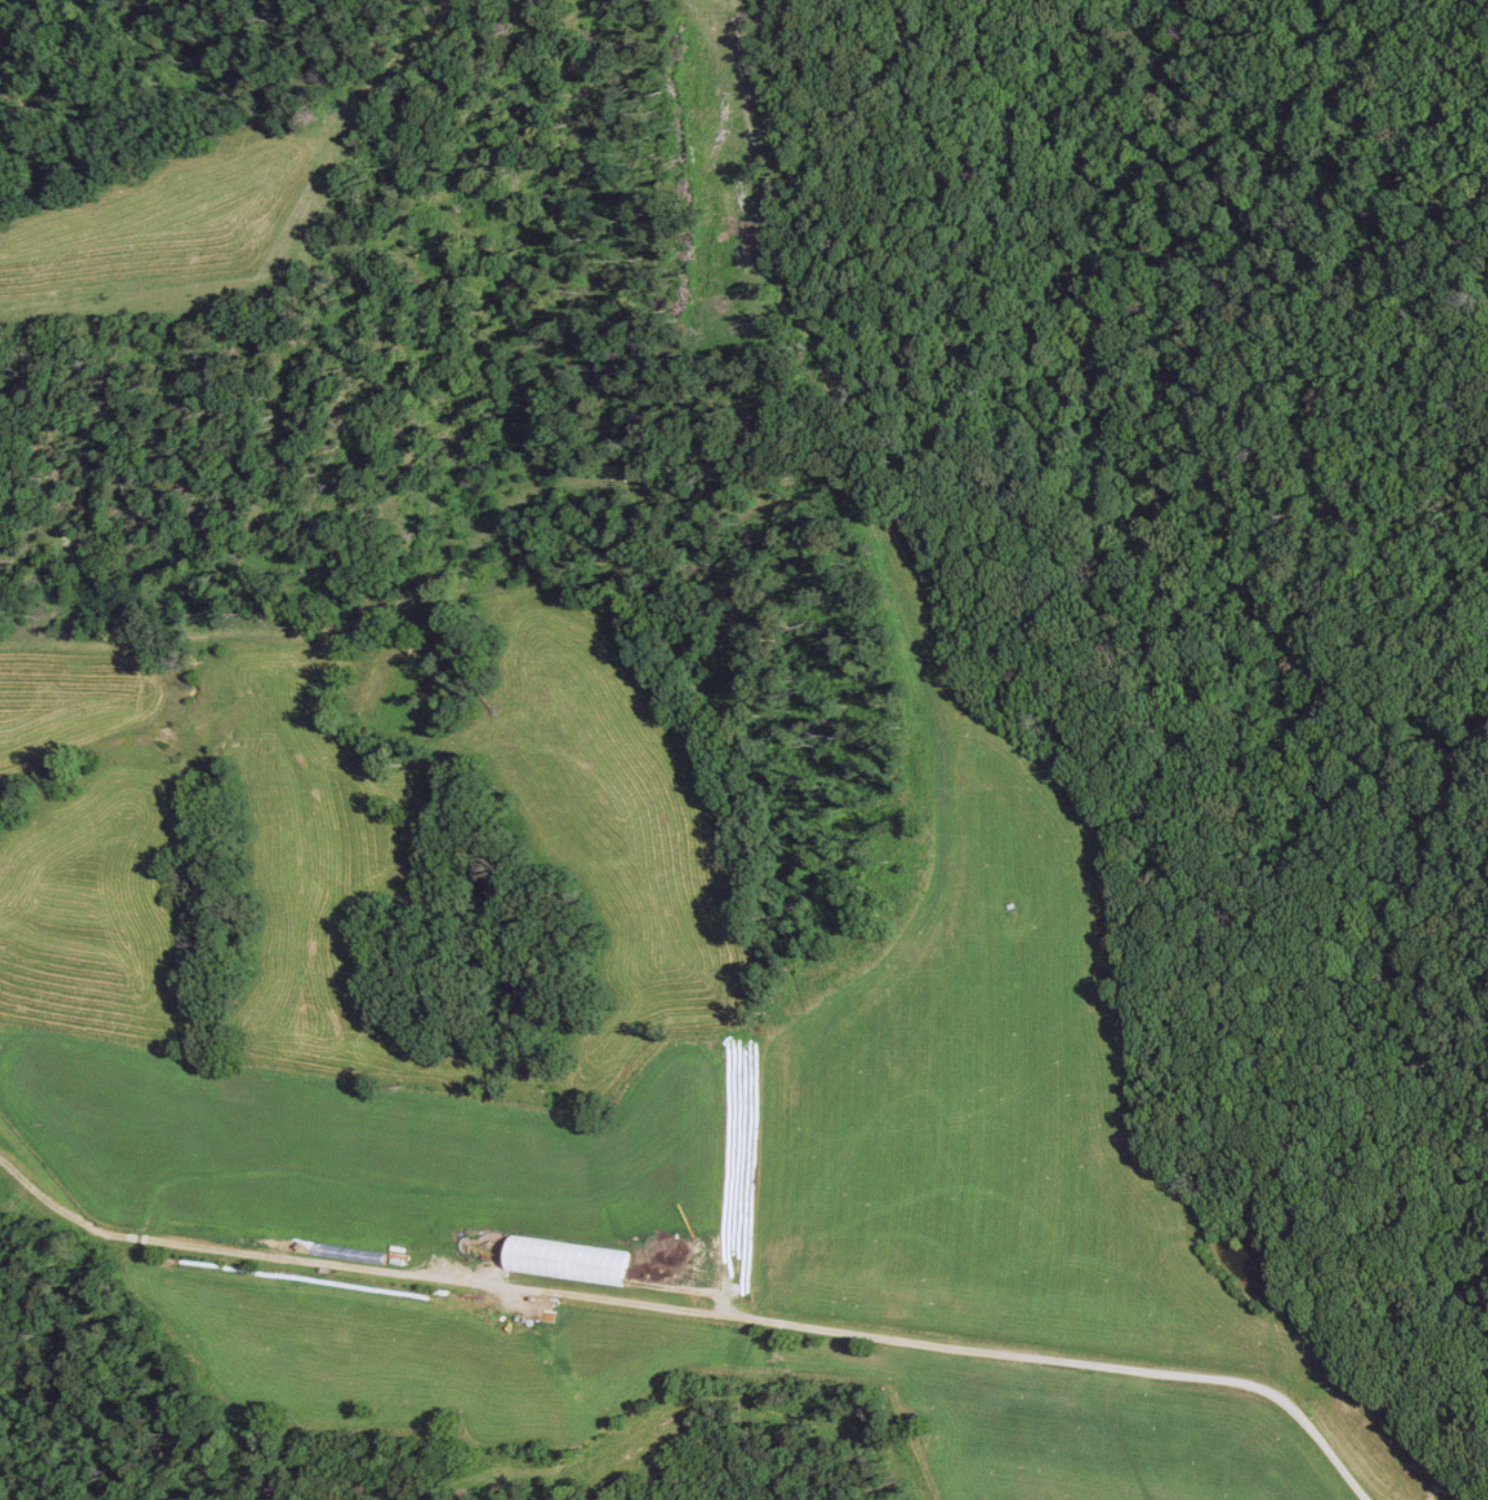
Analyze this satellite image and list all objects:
building: (571, 1262)
road: (696, 1313)

